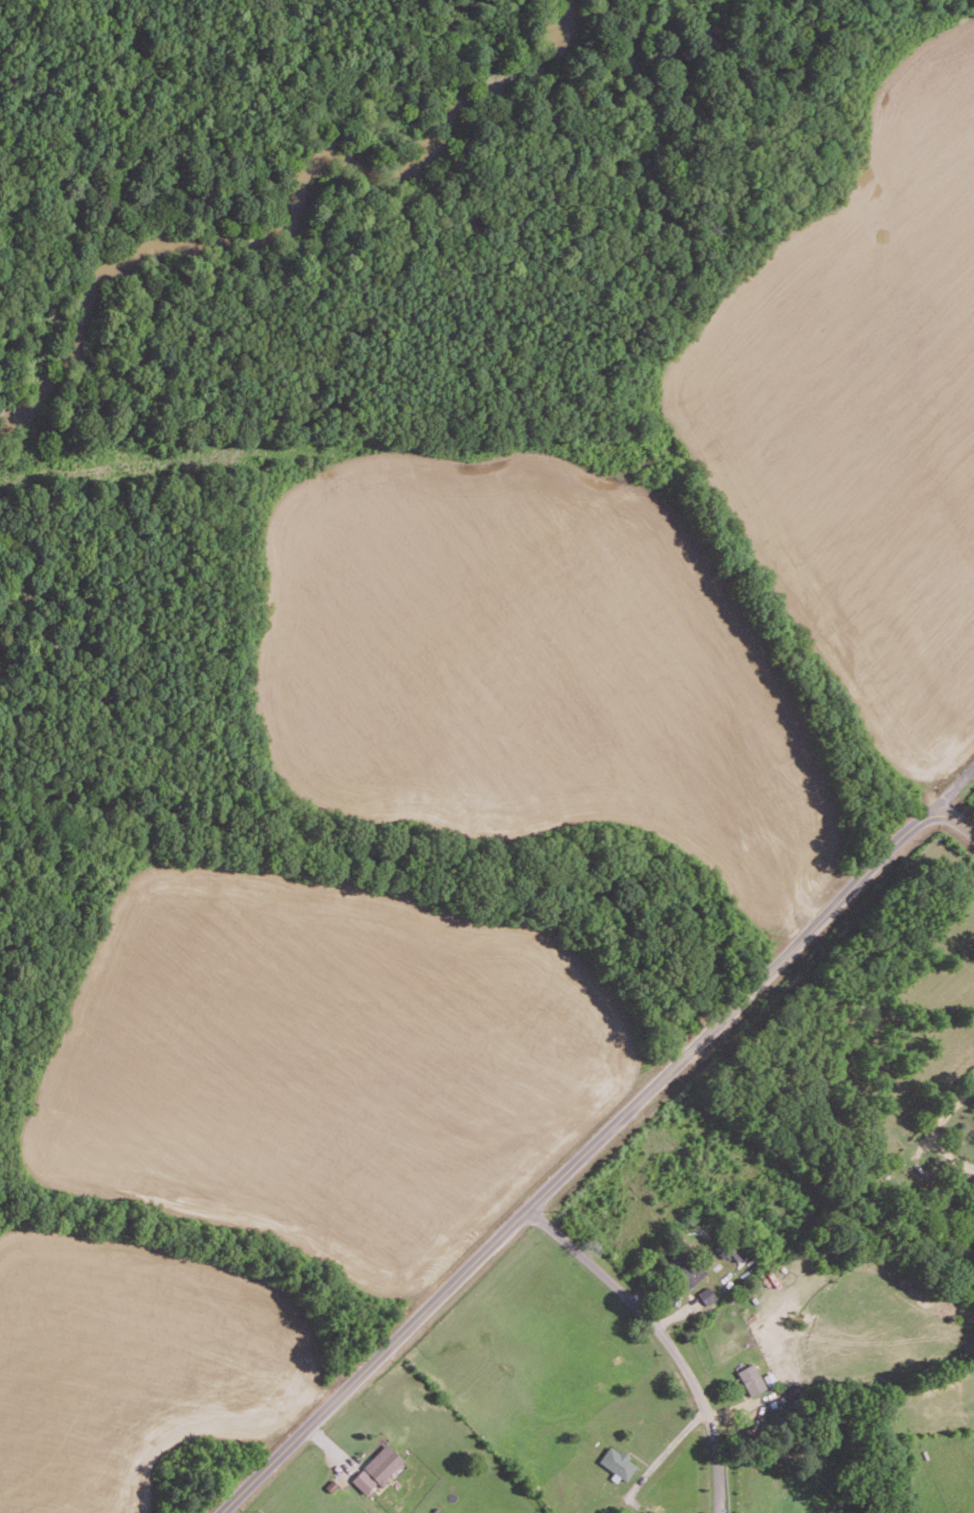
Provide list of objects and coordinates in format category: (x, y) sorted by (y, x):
river: (298, 215)
road: (951, 784)
road: (957, 817)
road: (938, 1121)
road: (577, 1159)
building: (736, 1253)
building: (698, 1282)
road: (665, 1337)
building: (751, 1378)
road: (671, 1443)
building: (617, 1462)
building: (376, 1468)

